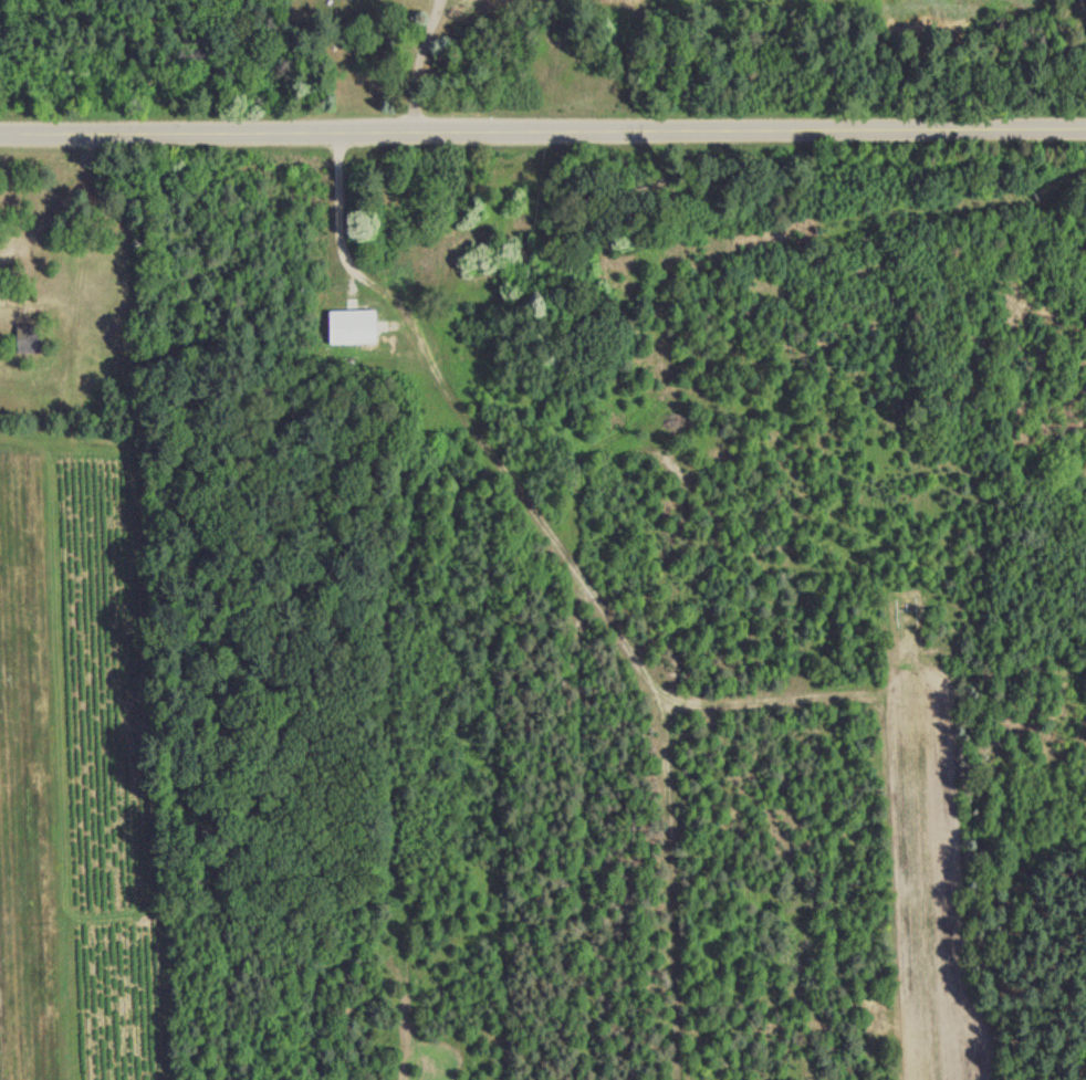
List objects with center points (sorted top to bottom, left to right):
road: (416, 66)
road: (543, 133)
road: (340, 206)
building: (352, 327)

